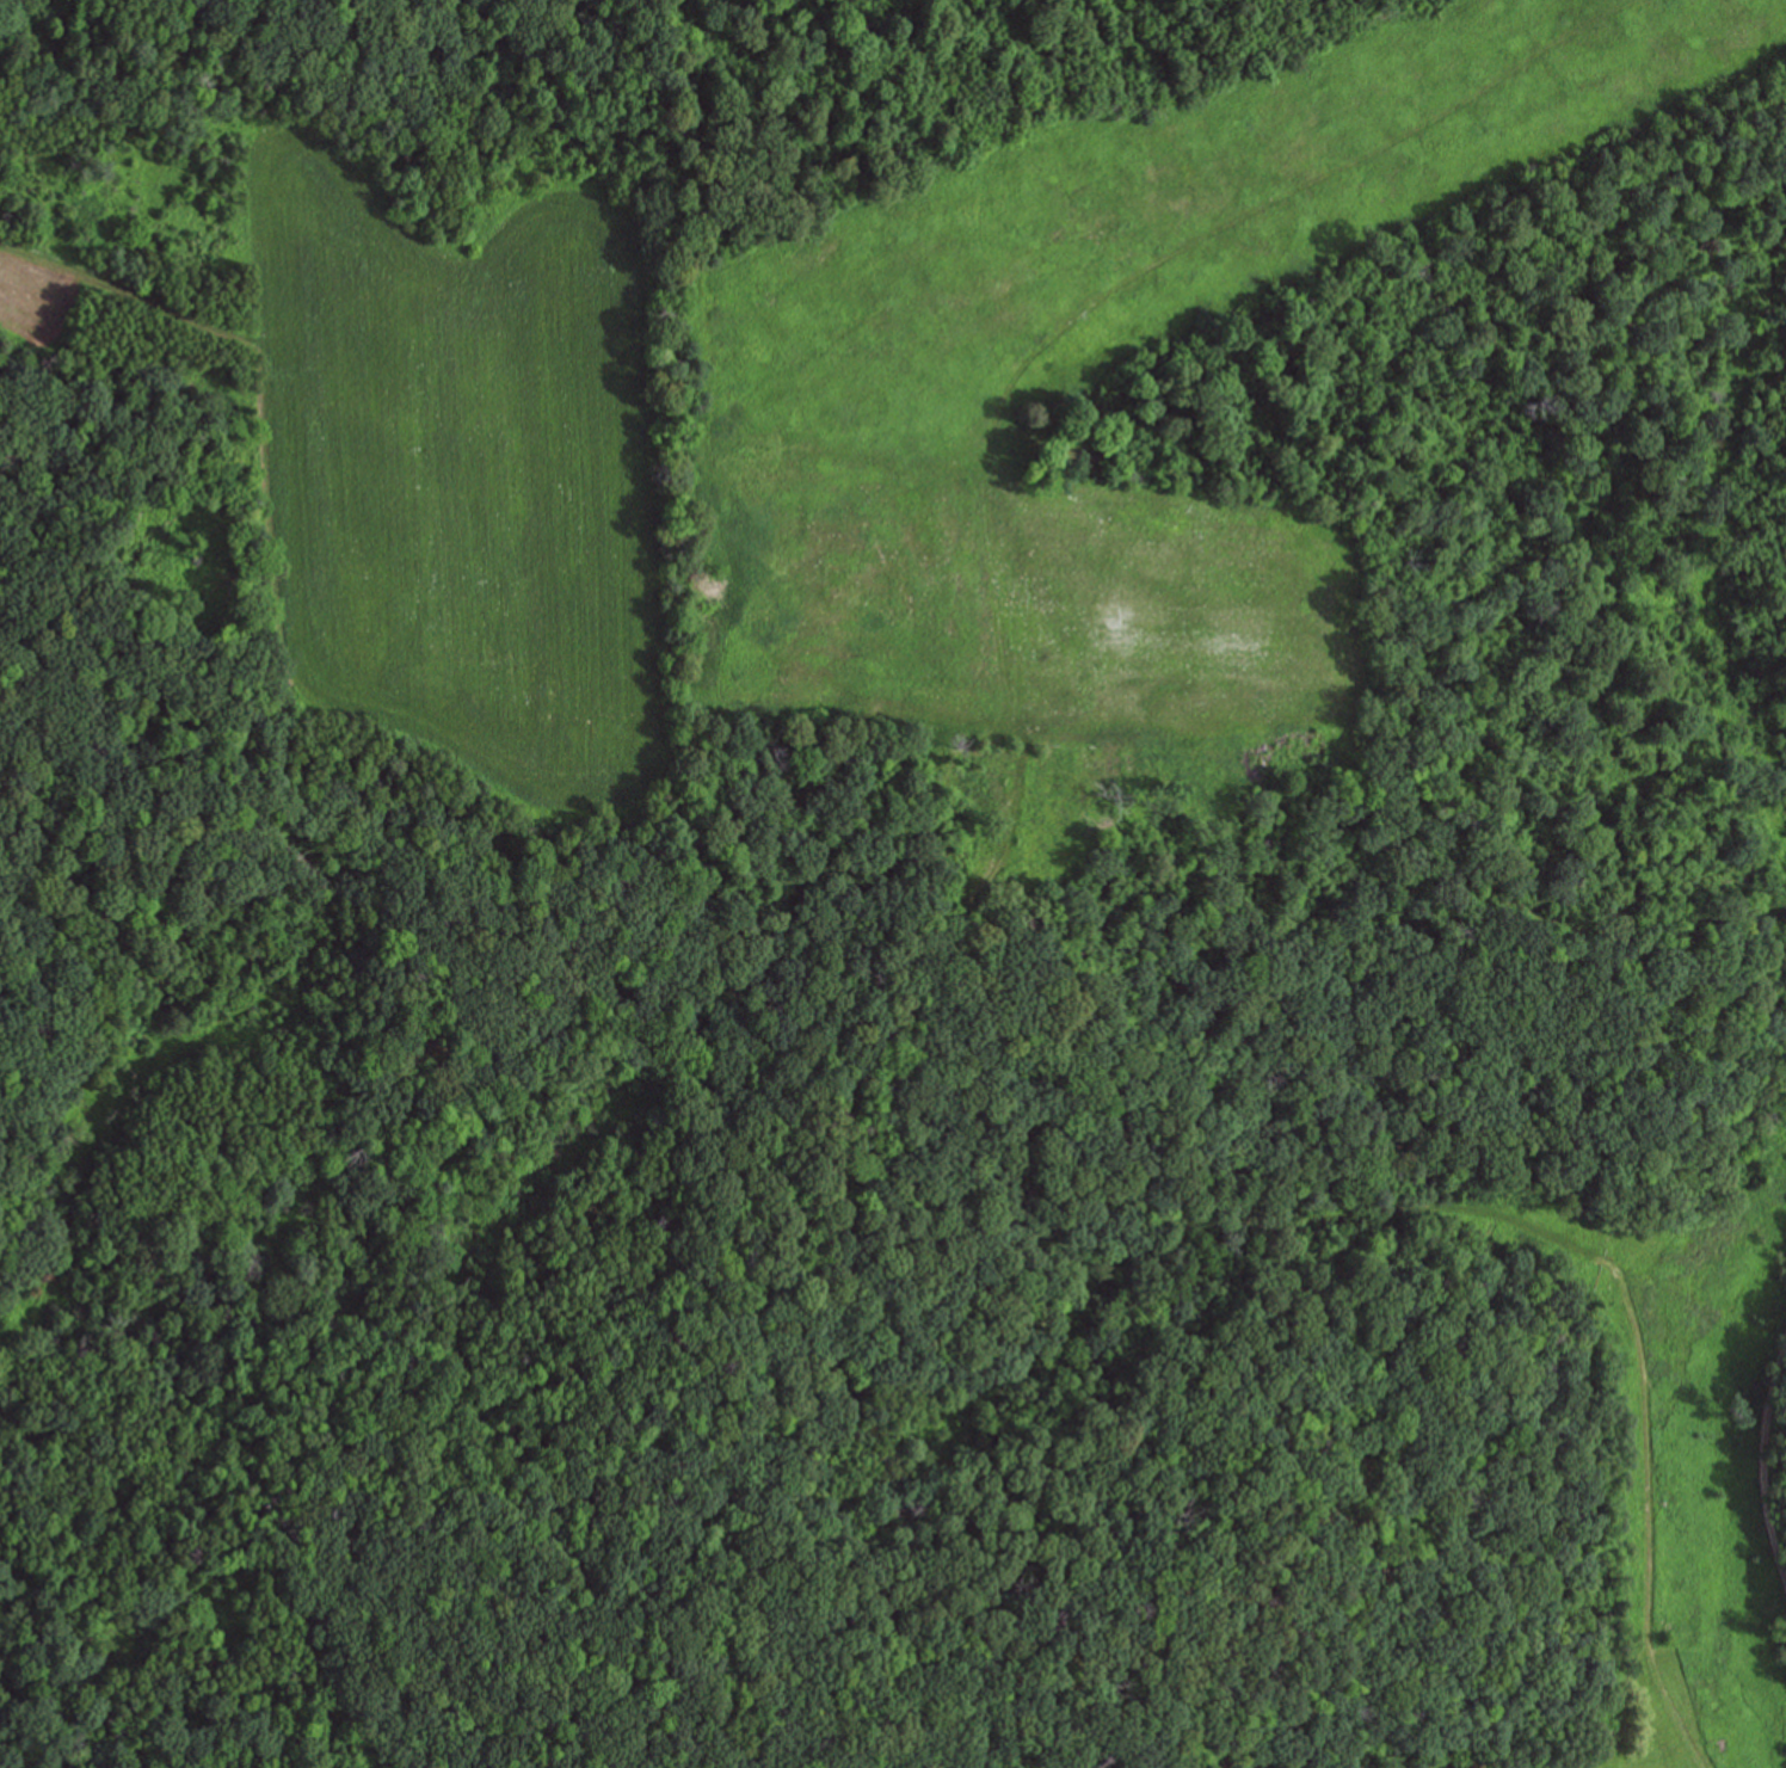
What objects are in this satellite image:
crop: (475, 485)
crop: (1190, 629)

